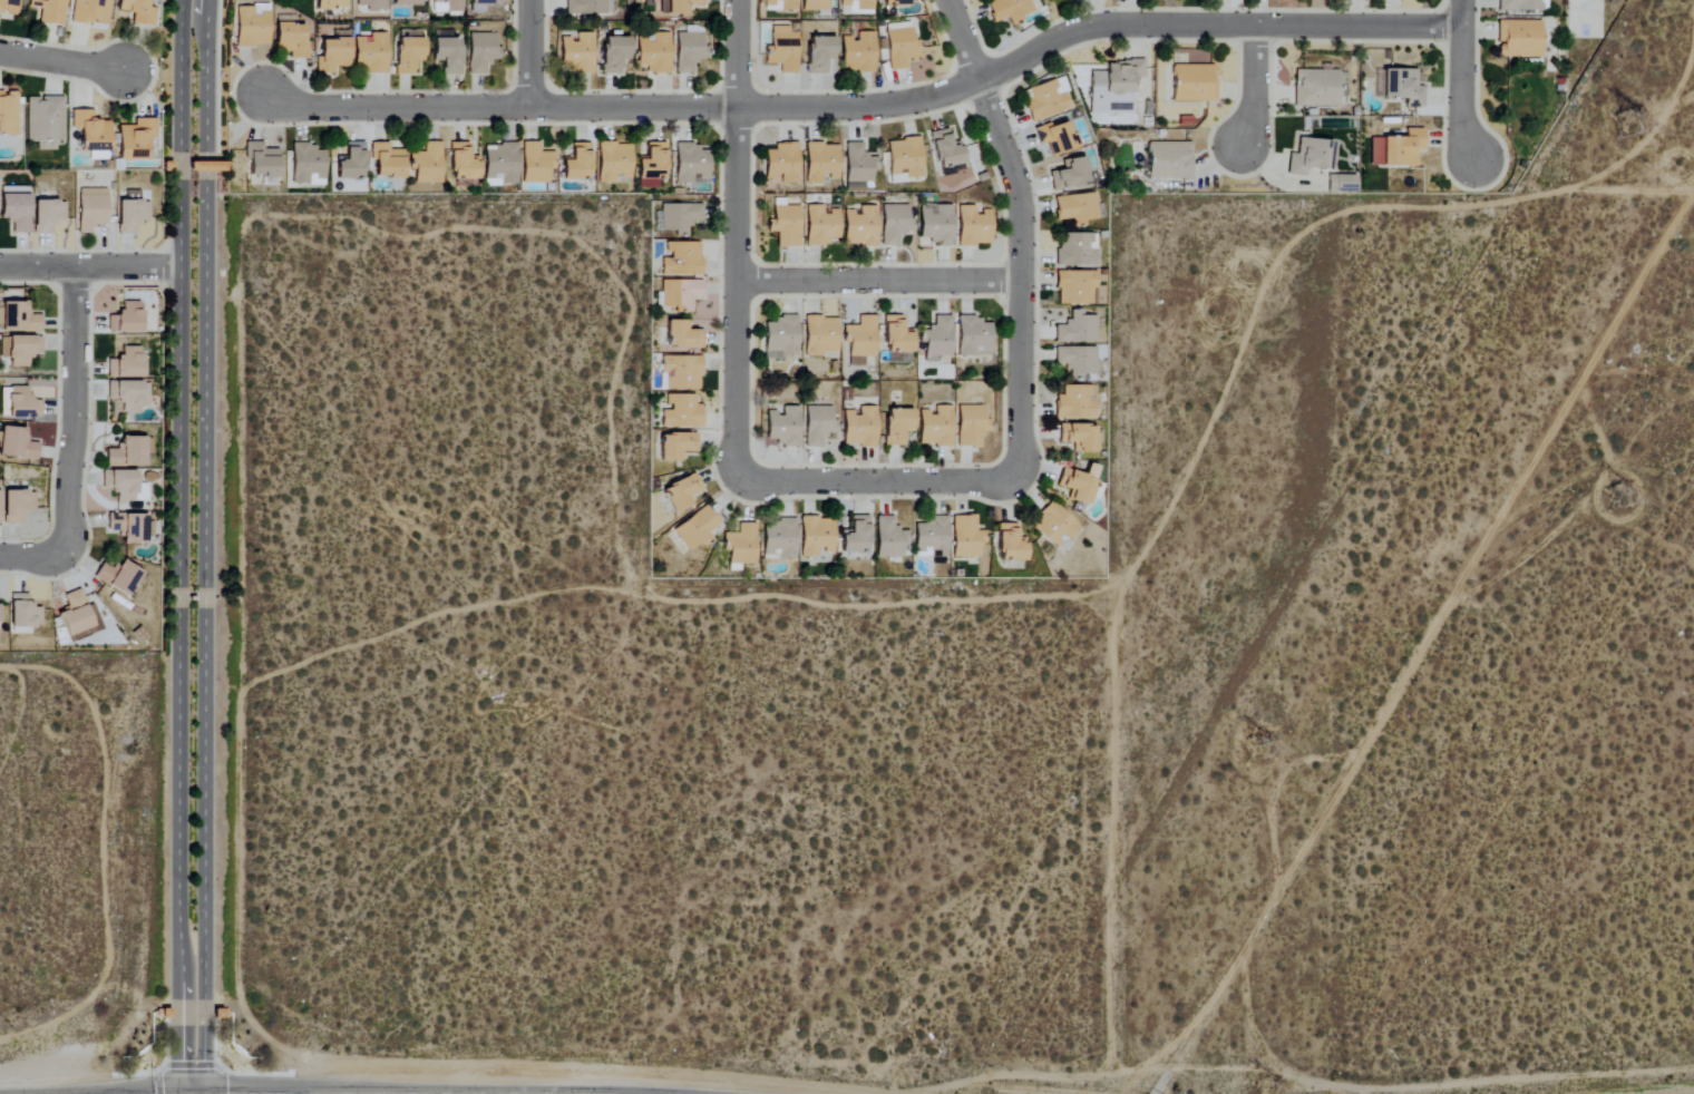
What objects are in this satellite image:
building: (406, 2)
building: (894, 2)
building: (330, 4)
building: (372, 4)
building: (480, 4)
building: (783, 4)
building: (857, 4)
building: (447, 6)
building: (817, 6)
building: (1523, 6)
building: (10, 7)
building: (588, 7)
building: (678, 7)
building: (1009, 10)
building: (48, 11)
building: (137, 11)
building: (89, 12)
building: (251, 27)
building: (409, 35)
building: (1520, 39)
building: (291, 41)
building: (899, 47)
building: (782, 50)
building: (480, 52)
building: (688, 52)
building: (370, 53)
road: (529, 53)
building: (577, 53)
building: (653, 53)
building: (858, 53)
building: (407, 55)
building: (614, 55)
building: (820, 55)
building: (332, 56)
building: (447, 56)
road: (64, 60)
road: (1461, 80)
building: (1195, 84)
road: (1252, 86)
building: (1114, 88)
building: (1316, 88)
building: (1403, 88)
building: (1048, 100)
road: (868, 106)
building: (8, 114)
building: (43, 119)
power tower: (1624, 129)
building: (1057, 138)
building: (135, 139)
building: (946, 150)
building: (1398, 150)
building: (1311, 157)
building: (905, 158)
building: (261, 160)
building: (1170, 160)
building: (387, 162)
building: (351, 163)
building: (614, 163)
building: (653, 163)
building: (427, 164)
building: (463, 164)
building: (536, 164)
building: (577, 164)
building: (782, 164)
building: (822, 164)
building: (308, 165)
building: (500, 165)
building: (692, 165)
building: (858, 165)
building: (1070, 175)
building: (649, 185)
building: (1342, 185)
building: (1077, 208)
building: (90, 209)
building: (16, 212)
building: (47, 216)
building: (680, 217)
building: (894, 224)
building: (936, 224)
building: (820, 226)
building: (860, 227)
building: (974, 227)
road: (734, 243)
building: (1077, 251)
building: (682, 260)
road: (89, 267)
road: (876, 280)
building: (1075, 287)
building: (681, 294)
building: (19, 318)
building: (126, 318)
building: (1077, 328)
building: (682, 334)
building: (897, 334)
building: (820, 336)
building: (974, 336)
building: (781, 338)
building: (937, 339)
building: (860, 340)
building: (19, 349)
building: (1077, 360)
road: (1019, 361)
building: (125, 363)
building: (680, 372)
building: (128, 393)
building: (1075, 402)
building: (22, 403)
road: (74, 406)
building: (682, 411)
building: (818, 424)
building: (897, 424)
building: (783, 426)
building: (971, 426)
building: (860, 427)
building: (936, 427)
building: (1079, 437)
building: (17, 443)
building: (676, 446)
building: (127, 452)
building: (1079, 482)
building: (124, 485)
power tower: (1629, 491)
building: (681, 492)
building: (17, 505)
building: (0, 521)
building: (1054, 525)
building: (130, 526)
building: (695, 528)
building: (857, 535)
building: (817, 536)
building: (965, 537)
building: (889, 538)
building: (932, 538)
building: (780, 539)
building: (1011, 543)
building: (741, 546)
road: (178, 547)
road: (203, 548)
road: (35, 556)
building: (118, 576)
building: (23, 612)
building: (77, 614)
road: (1427, 639)
power tower: (1268, 740)

